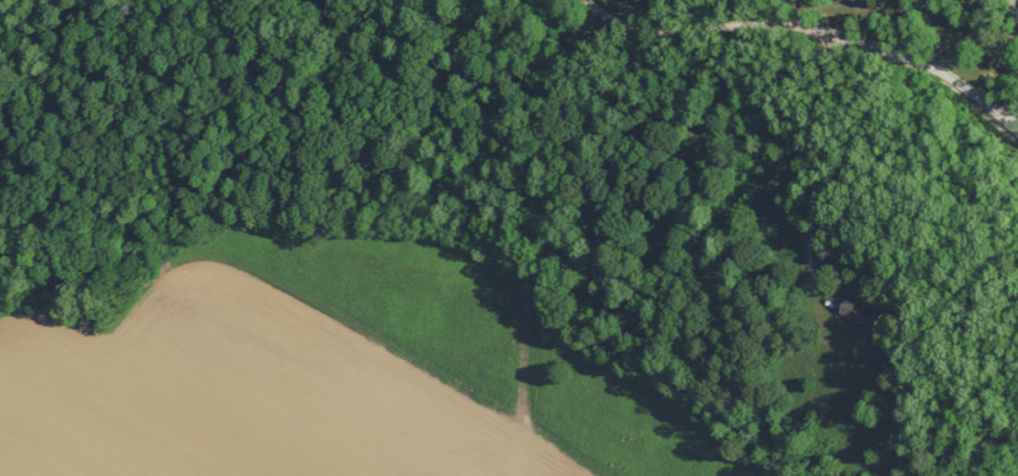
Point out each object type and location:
road: (817, 32)
road: (1012, 65)
building: (856, 312)

